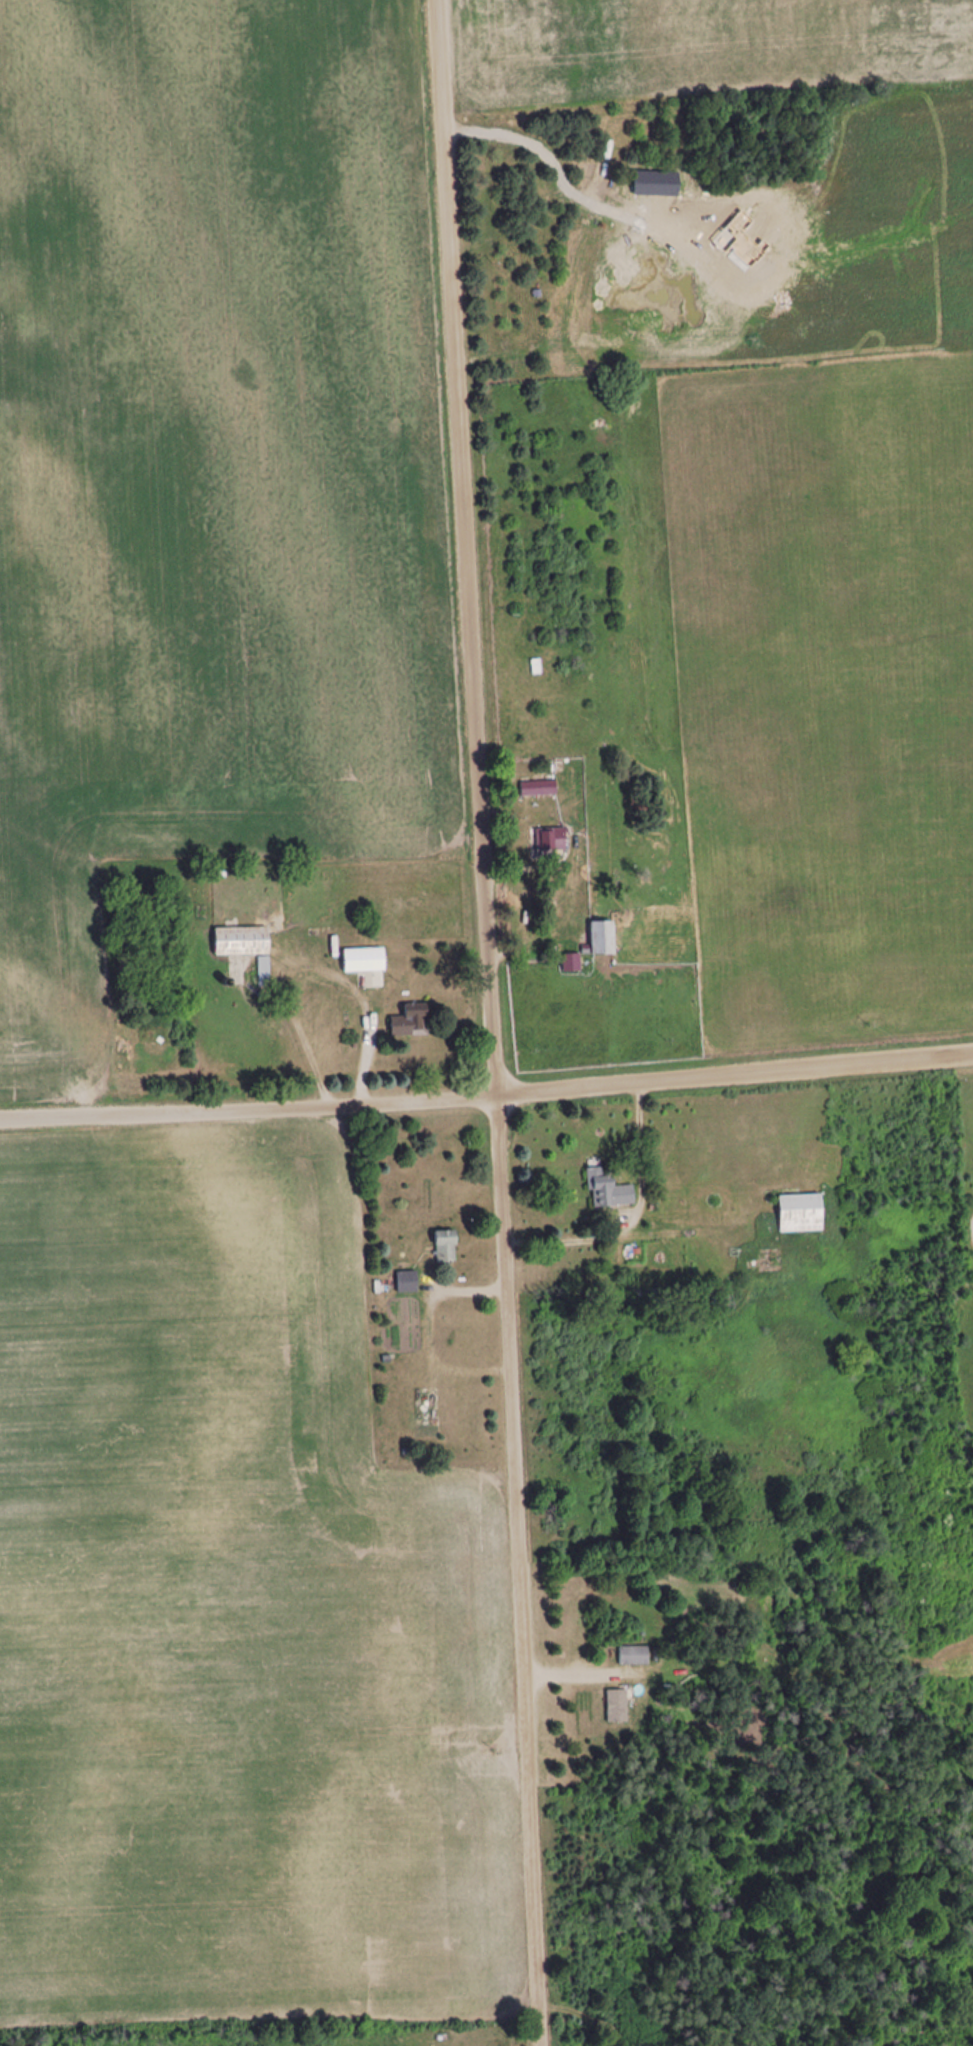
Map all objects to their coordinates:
building: (536, 667)
building: (538, 788)
building: (552, 840)
building: (604, 937)
building: (241, 941)
building: (359, 960)
building: (412, 1021)
road: (489, 1022)
road: (487, 1103)
building: (611, 1189)
building: (802, 1213)
building: (447, 1246)
building: (407, 1281)
building: (633, 1656)
building: (617, 1706)

